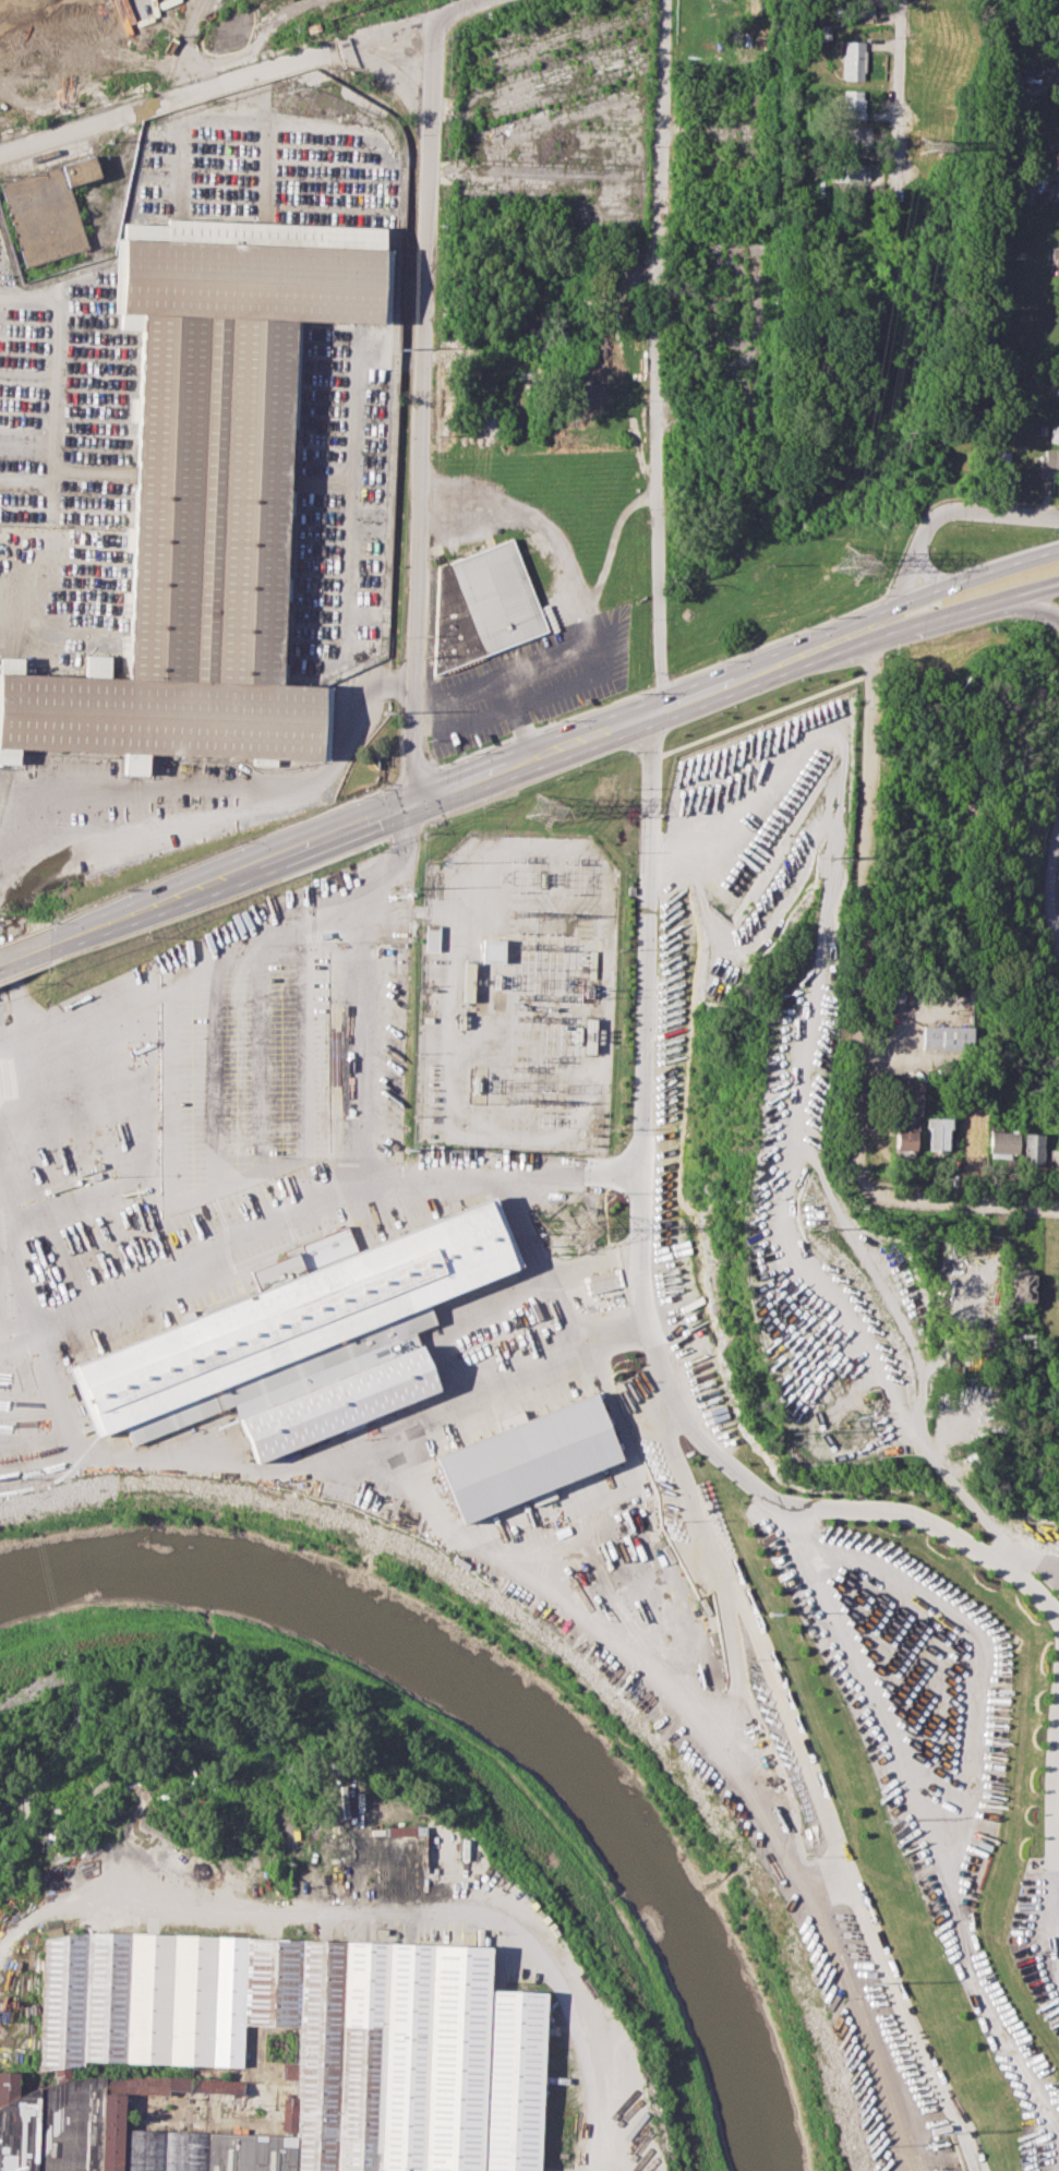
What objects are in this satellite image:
road: (454, 11)
building: (851, 60)
road: (207, 85)
road: (898, 85)
building: (1032, 87)
building: (852, 105)
building: (856, 135)
power tower: (931, 145)
building: (1057, 156)
building: (849, 172)
building: (1055, 189)
building: (1056, 257)
power tower: (401, 348)
road: (658, 355)
building: (1058, 383)
road: (420, 410)
building: (1056, 433)
building: (1048, 458)
building: (207, 495)
road: (953, 508)
power tower: (853, 564)
road: (564, 574)
road: (960, 578)
road: (1037, 587)
road: (1037, 603)
building: (479, 605)
road: (943, 612)
road: (515, 672)
power tower: (387, 712)
road: (519, 717)
road: (458, 783)
traffic signals: (412, 801)
road: (226, 806)
power tower: (542, 808)
power tower: (513, 854)
power tower: (828, 854)
power tower: (564, 855)
road: (1057, 880)
power tower: (404, 888)
road: (361, 896)
road: (864, 896)
building: (431, 937)
road: (646, 943)
building: (492, 950)
road: (23, 953)
building: (467, 981)
power substation: (516, 994)
road: (358, 1034)
building: (948, 1035)
road: (316, 1044)
road: (261, 1089)
road: (214, 1098)
road: (167, 1111)
power tower: (546, 1116)
building: (905, 1131)
building: (938, 1131)
building: (976, 1132)
building: (1004, 1142)
building: (1034, 1147)
power tower: (407, 1151)
power tower: (490, 1153)
road: (484, 1178)
road: (950, 1197)
power tower: (814, 1225)
power tower: (578, 1227)
road: (22, 1242)
road: (784, 1261)
building: (1049, 1280)
building: (1022, 1283)
building: (302, 1335)
building: (1023, 1338)
power tower: (838, 1420)
power tower: (802, 1431)
building: (529, 1455)
road: (760, 1489)
road: (1026, 1560)
power tower: (770, 1611)
river: (509, 1708)
road: (1055, 1759)
power tower: (888, 1815)
road: (381, 1910)
power tower: (1037, 1952)
power tower: (875, 1981)
building: (416, 2042)
power tower: (950, 2128)

